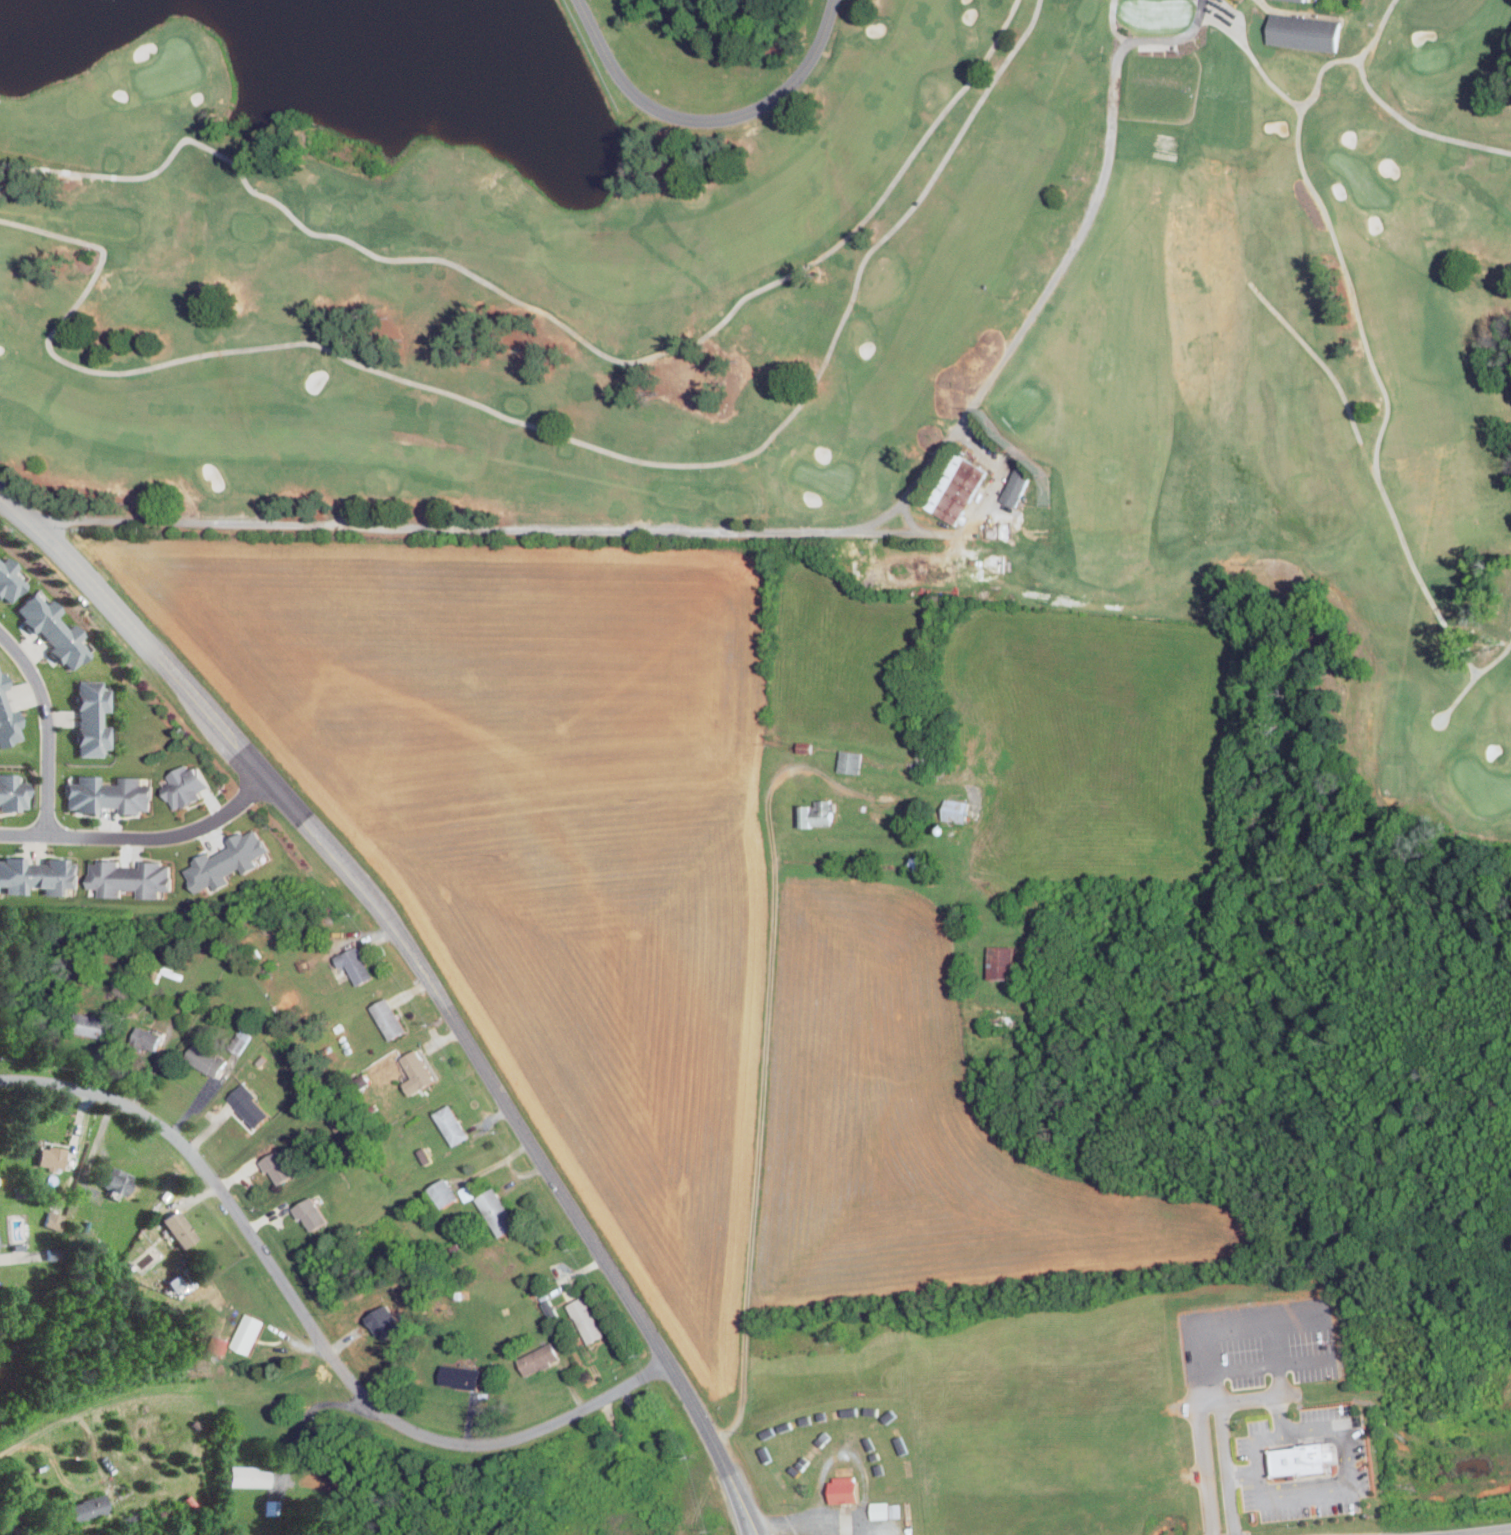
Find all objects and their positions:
building: (1302, 0)
road: (1113, 23)
building: (1302, 29)
road: (1161, 39)
park: (1429, 57)
park: (169, 67)
road: (1318, 73)
road: (1390, 108)
road: (706, 121)
park: (1360, 179)
road: (1328, 224)
road: (1059, 261)
road: (558, 322)
park: (843, 324)
road: (549, 430)
park: (824, 479)
building: (1015, 486)
building: (952, 487)
road: (1386, 498)
road: (638, 530)
building: (11, 581)
building: (57, 630)
building: (94, 718)
building: (6, 719)
road: (51, 722)
building: (851, 760)
park: (1481, 785)
building: (186, 787)
building: (16, 792)
building: (111, 796)
building: (814, 813)
road: (142, 836)
building: (230, 857)
building: (921, 863)
building: (40, 875)
building: (131, 878)
crop: (644, 914)
building: (1003, 962)
building: (355, 965)
road: (426, 978)
building: (389, 1018)
building: (92, 1026)
building: (147, 1038)
building: (240, 1040)
road: (763, 1056)
building: (205, 1059)
building: (417, 1075)
building: (246, 1104)
building: (452, 1124)
building: (54, 1155)
building: (425, 1155)
road: (93, 1156)
building: (276, 1166)
building: (119, 1179)
building: (446, 1192)
building: (465, 1192)
building: (496, 1211)
building: (311, 1213)
building: (55, 1219)
building: (181, 1228)
building: (0, 1248)
building: (58, 1253)
building: (550, 1308)
building: (587, 1319)
road: (310, 1327)
building: (248, 1334)
building: (219, 1343)
building: (540, 1358)
building: (460, 1377)
road: (1241, 1398)
road: (1278, 1413)
road: (305, 1416)
road: (69, 1418)
building: (784, 1426)
road: (1317, 1429)
road: (1253, 1441)
building: (1301, 1457)
road: (1225, 1466)
road: (1203, 1468)
road: (1242, 1473)
building: (1085, 1475)
building: (248, 1477)
building: (782, 1478)
building: (843, 1491)
road: (1314, 1496)
building: (273, 1506)
building: (90, 1508)
building: (887, 1510)
road: (815, 1519)
road: (1485, 1532)

